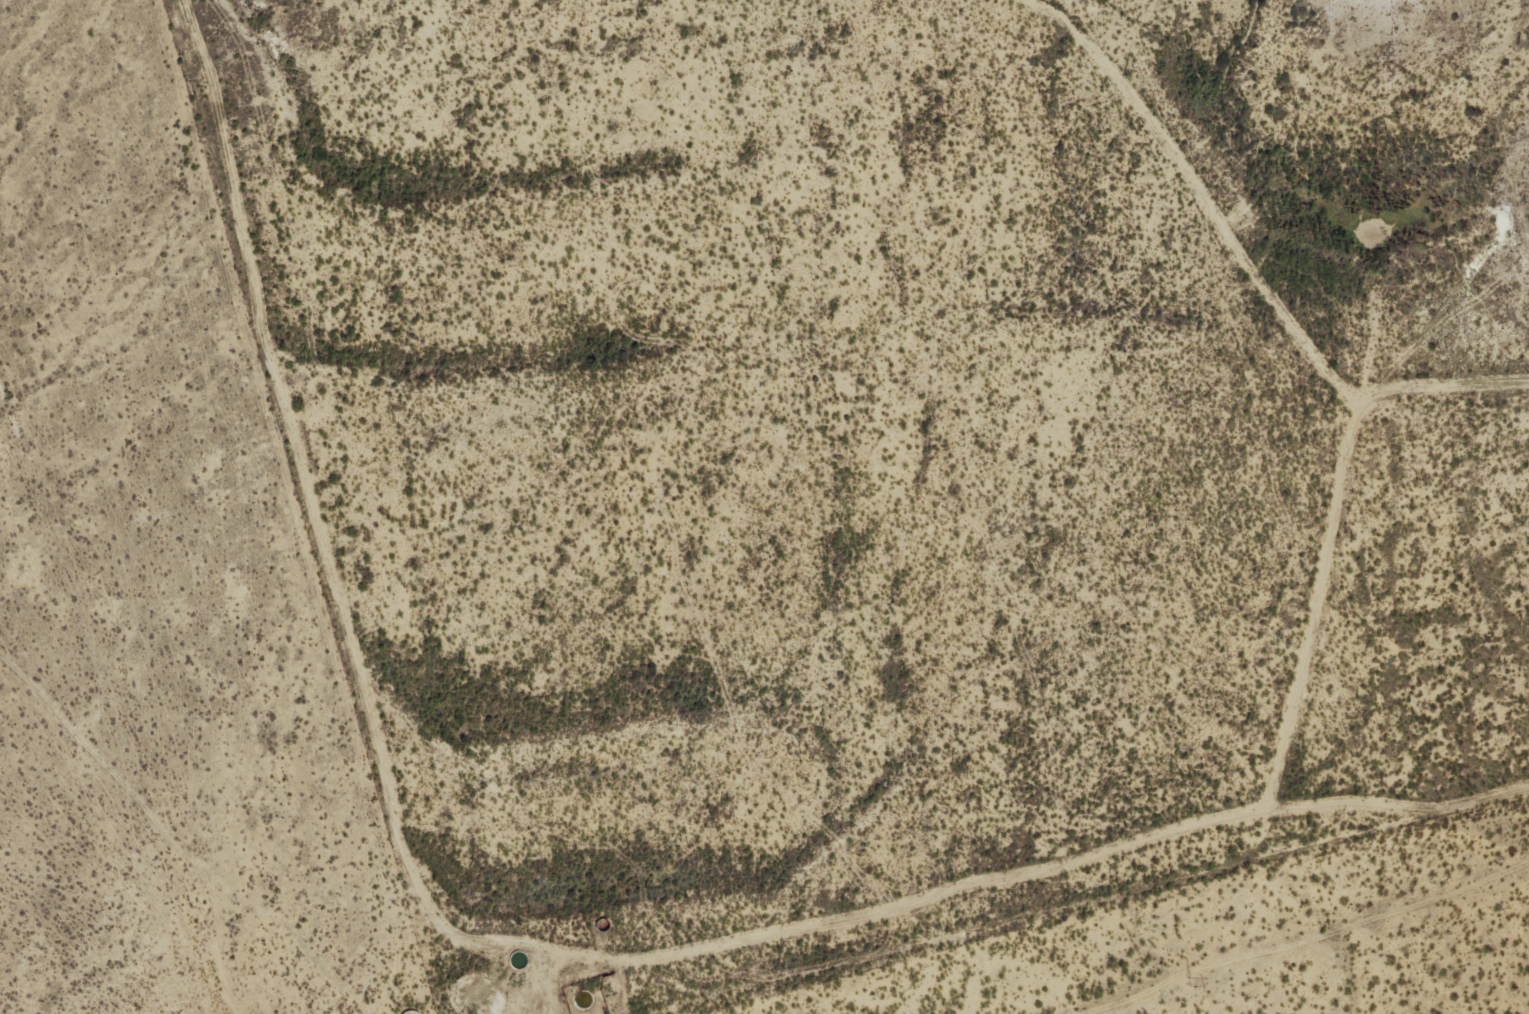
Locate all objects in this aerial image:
power tower: (1186, 981)

